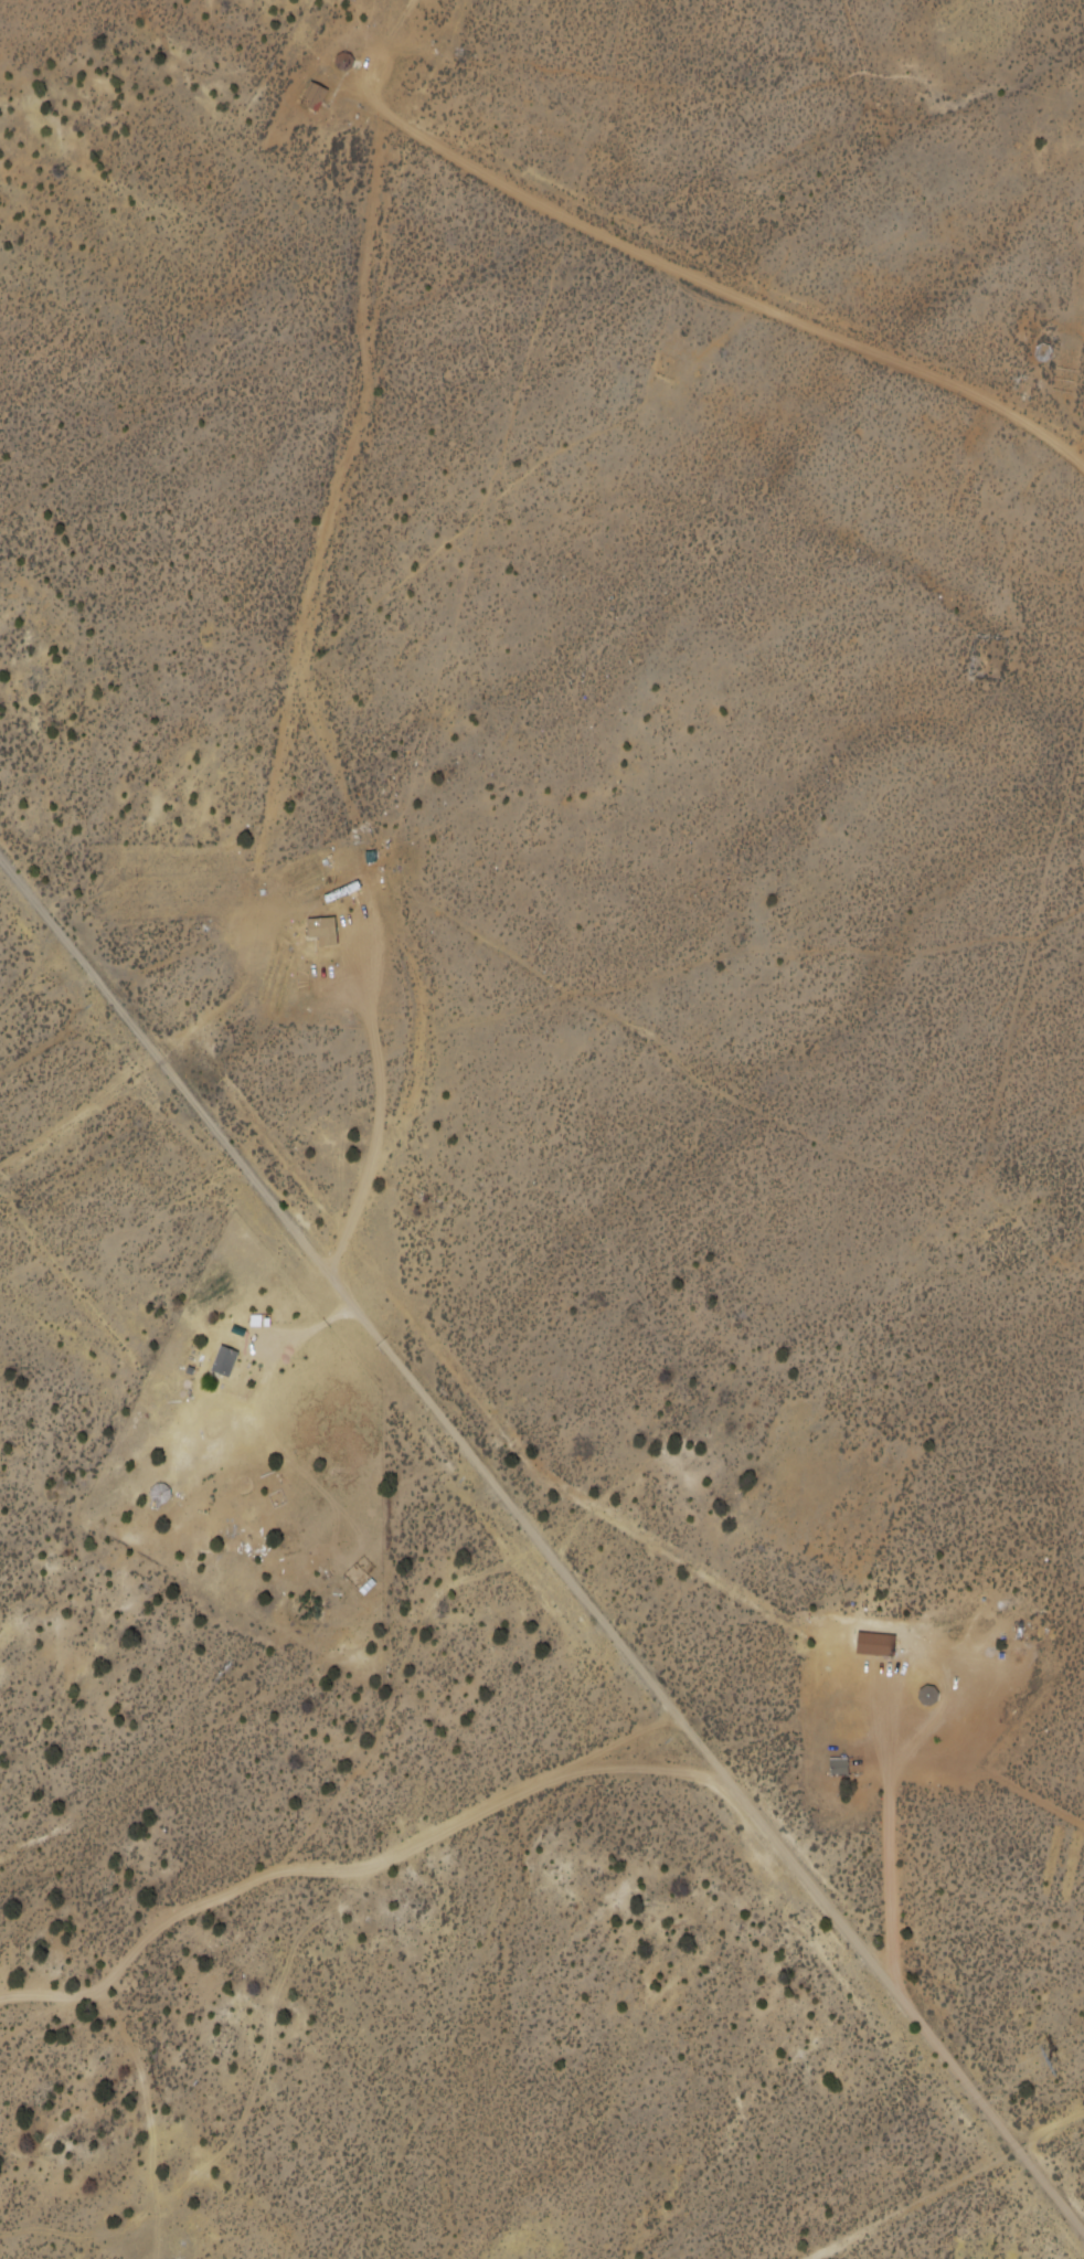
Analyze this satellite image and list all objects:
building: (315, 96)
road: (833, 337)
building: (1043, 352)
building: (225, 1360)
road: (544, 1558)
building: (876, 1638)
building: (928, 1695)
building: (840, 1765)
power tower: (1056, 2059)
road: (945, 2183)

